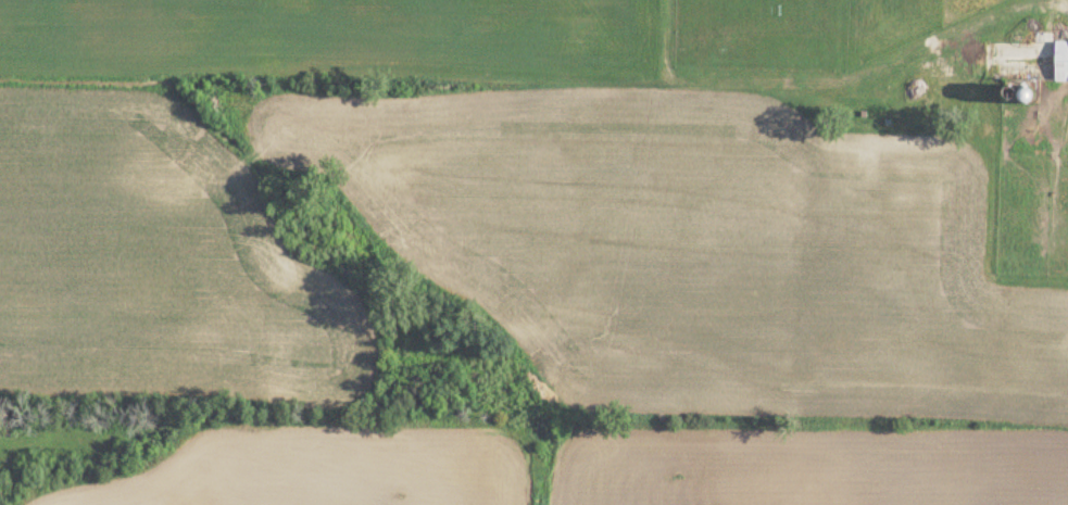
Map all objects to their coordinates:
building: (1060, 61)

